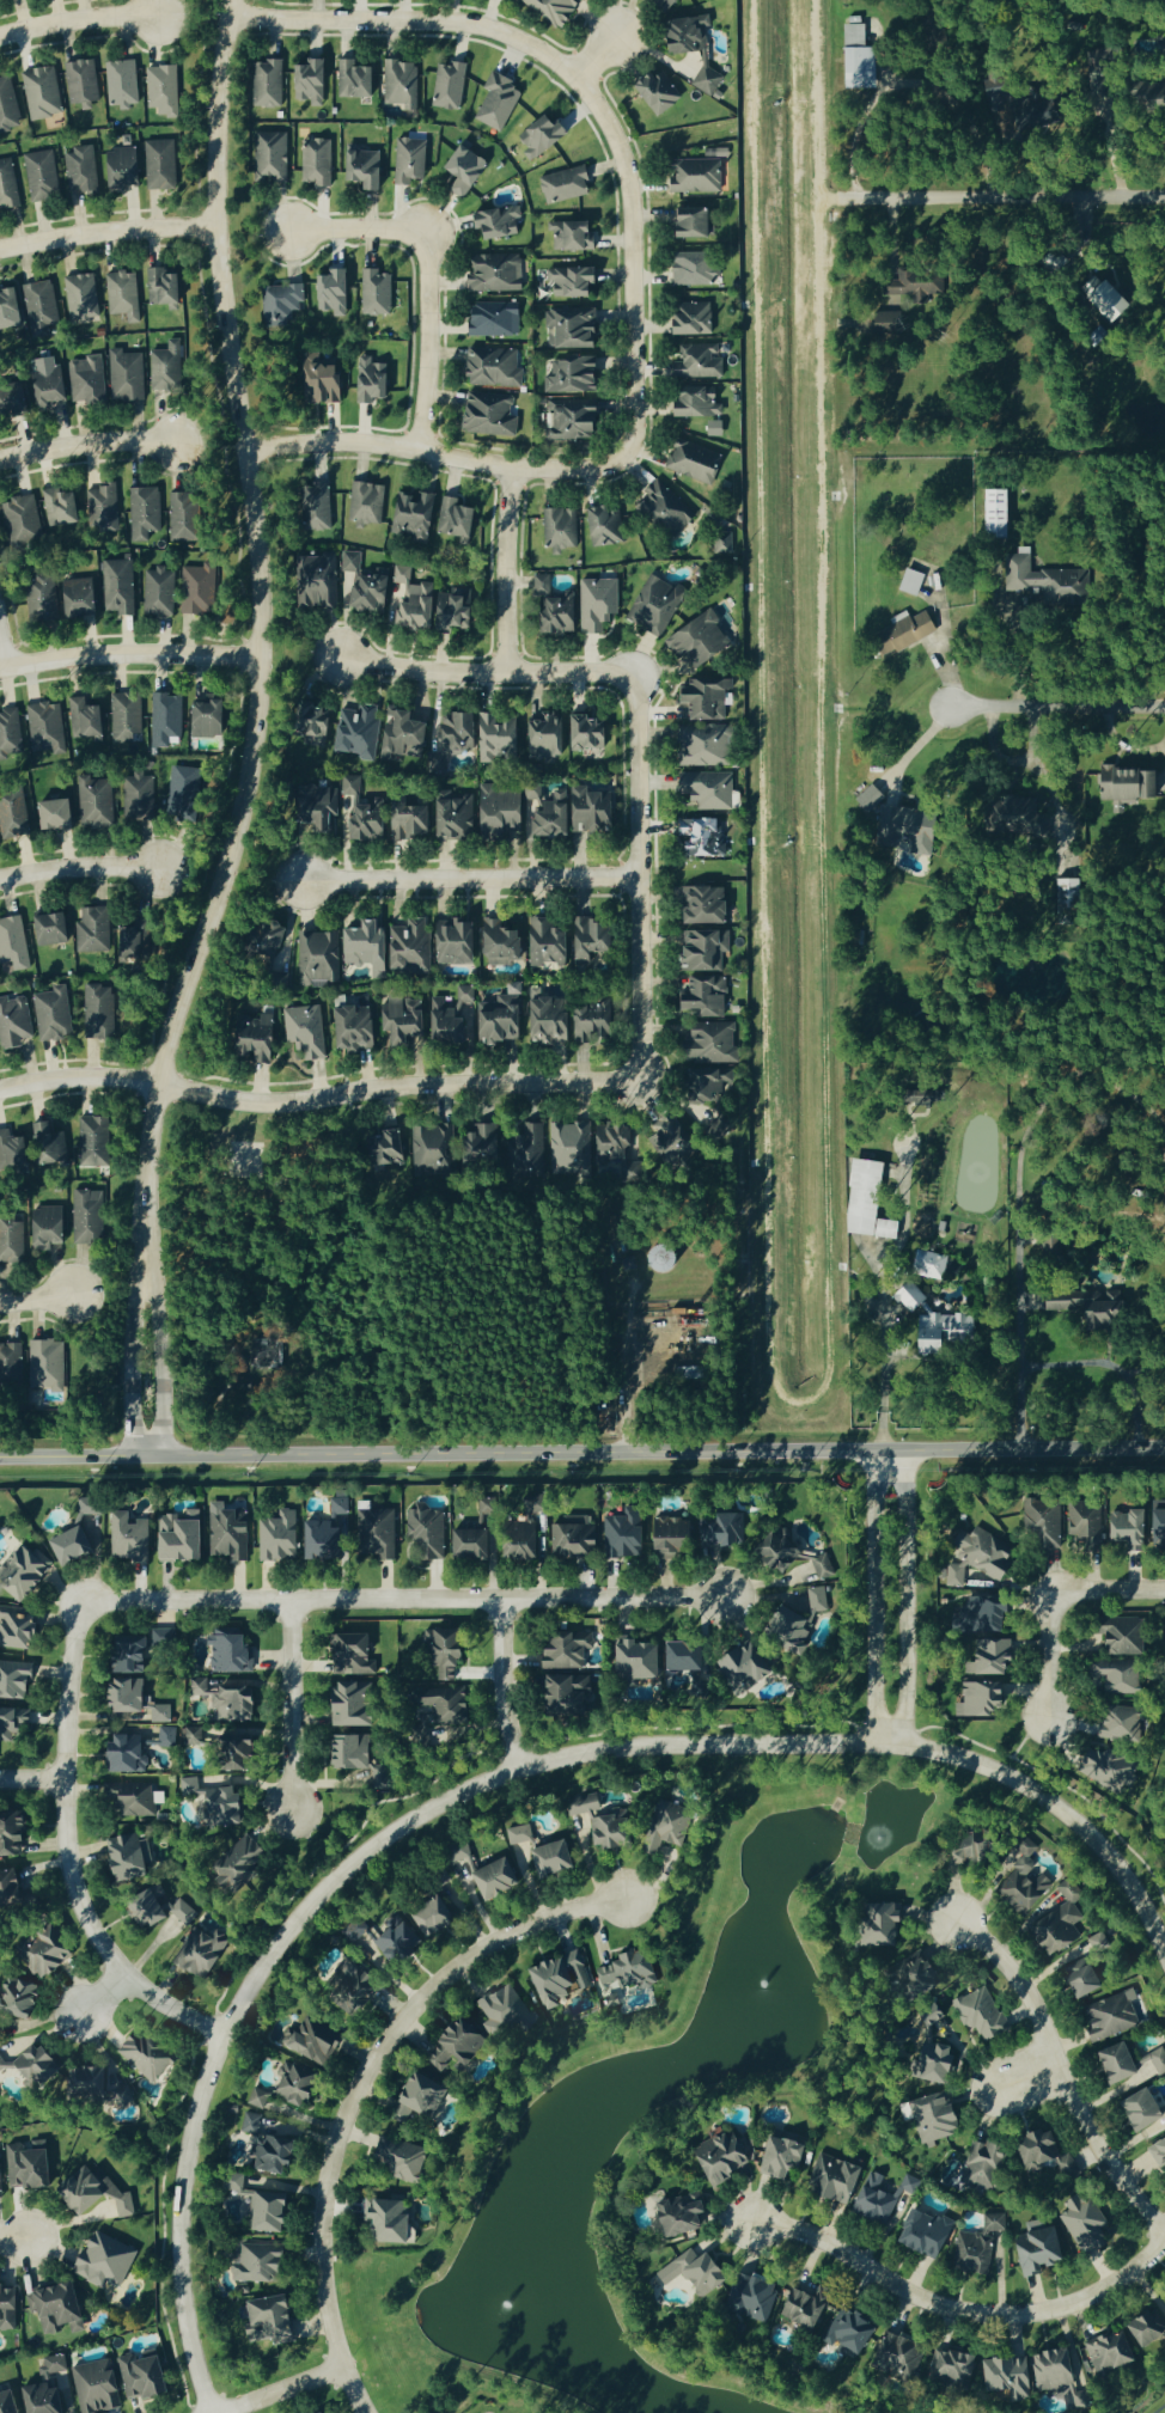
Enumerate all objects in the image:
building: (678, 0)
building: (557, 8)
road: (78, 19)
building: (693, 31)
building: (854, 53)
road: (592, 59)
building: (710, 77)
building: (359, 78)
building: (84, 79)
building: (316, 79)
building: (124, 81)
building: (272, 81)
building: (403, 81)
road: (910, 81)
building: (451, 83)
building: (166, 88)
road: (585, 90)
building: (664, 90)
building: (44, 91)
building: (990, 92)
building: (501, 99)
building: (10, 105)
building: (1027, 109)
building: (545, 134)
building: (274, 154)
building: (413, 158)
building: (321, 159)
building: (163, 163)
building: (370, 165)
building: (128, 166)
building: (84, 167)
building: (469, 167)
building: (44, 173)
building: (701, 173)
building: (8, 183)
building: (568, 183)
road: (1006, 195)
building: (499, 220)
building: (699, 220)
road: (356, 230)
road: (106, 231)
building: (577, 233)
building: (699, 267)
building: (499, 271)
building: (575, 279)
building: (910, 281)
building: (166, 285)
building: (337, 289)
building: (379, 289)
building: (126, 293)
building: (85, 294)
building: (1102, 298)
building: (283, 300)
building: (43, 306)
building: (12, 307)
building: (498, 317)
building: (696, 317)
building: (884, 322)
building: (575, 326)
road: (427, 338)
building: (701, 360)
building: (169, 365)
building: (496, 366)
building: (128, 373)
building: (577, 373)
building: (89, 377)
building: (328, 379)
building: (377, 379)
building: (55, 383)
building: (17, 397)
building: (701, 401)
building: (493, 413)
building: (578, 417)
road: (86, 441)
road: (432, 451)
building: (696, 459)
building: (368, 501)
building: (321, 503)
building: (65, 506)
building: (105, 506)
building: (670, 506)
building: (147, 511)
building: (990, 512)
building: (416, 514)
building: (188, 515)
building: (460, 518)
building: (24, 519)
building: (609, 524)
building: (562, 527)
road: (506, 570)
building: (1043, 578)
building: (318, 579)
building: (367, 582)
building: (544, 582)
building: (121, 585)
building: (201, 587)
building: (161, 589)
building: (83, 594)
building: (49, 595)
building: (417, 599)
building: (602, 601)
building: (660, 601)
building: (458, 609)
building: (566, 612)
building: (899, 630)
road: (129, 654)
road: (2, 655)
road: (486, 676)
road: (1060, 703)
building: (128, 714)
building: (213, 716)
building: (89, 717)
building: (167, 717)
building: (48, 725)
building: (11, 728)
building: (361, 728)
building: (407, 729)
building: (463, 731)
road: (254, 732)
building: (594, 732)
building: (551, 734)
building: (710, 743)
road: (921, 744)
building: (439, 760)
building: (1121, 784)
building: (187, 788)
building: (714, 788)
building: (141, 794)
building: (871, 796)
building: (98, 801)
building: (1014, 805)
building: (327, 807)
building: (506, 807)
building: (574, 810)
building: (368, 812)
building: (54, 813)
building: (14, 814)
building: (459, 815)
building: (411, 817)
building: (915, 825)
building: (706, 835)
road: (79, 868)
road: (468, 878)
road: (636, 878)
building: (709, 903)
building: (56, 928)
building: (96, 928)
building: (599, 936)
building: (140, 937)
building: (276, 939)
building: (553, 940)
building: (14, 941)
building: (460, 941)
building: (505, 941)
building: (415, 943)
building: (372, 945)
building: (709, 948)
building: (319, 955)
building: (708, 995)
building: (102, 1010)
building: (55, 1013)
building: (456, 1013)
building: (506, 1014)
building: (407, 1018)
building: (554, 1018)
building: (16, 1020)
building: (598, 1020)
building: (360, 1027)
building: (309, 1028)
building: (261, 1037)
building: (715, 1041)
building: (713, 1082)
building: (920, 1096)
road: (318, 1099)
building: (484, 1137)
building: (677, 1137)
building: (97, 1140)
building: (571, 1140)
building: (53, 1146)
building: (618, 1146)
building: (391, 1147)
building: (432, 1148)
building: (16, 1149)
building: (524, 1151)
building: (91, 1215)
building: (54, 1224)
building: (884, 1228)
building: (13, 1238)
building: (928, 1264)
road: (36, 1301)
road: (883, 1354)
road: (624, 1362)
building: (12, 1364)
building: (49, 1366)
road: (582, 1454)
building: (94, 1505)
building: (335, 1509)
building: (1039, 1516)
building: (1157, 1533)
building: (665, 1535)
building: (132, 1537)
building: (184, 1537)
building: (227, 1537)
building: (371, 1537)
building: (274, 1538)
building: (425, 1538)
building: (617, 1538)
building: (317, 1541)
building: (514, 1544)
building: (566, 1544)
building: (79, 1545)
building: (462, 1545)
building: (971, 1559)
building: (28, 1574)
road: (873, 1598)
road: (904, 1598)
road: (404, 1599)
road: (1055, 1602)
building: (22, 1627)
building: (782, 1630)
building: (1118, 1638)
building: (437, 1647)
building: (142, 1649)
building: (559, 1653)
building: (232, 1654)
building: (677, 1658)
building: (629, 1661)
building: (744, 1668)
building: (17, 1680)
road: (501, 1681)
building: (140, 1699)
building: (975, 1700)
building: (340, 1702)
road: (292, 1704)
building: (12, 1717)
road: (1027, 1734)
building: (169, 1737)
building: (206, 1740)
building: (132, 1753)
road: (494, 1776)
road: (32, 1782)
road: (1056, 1783)
building: (134, 1800)
building: (232, 1828)
fountain: (878, 1835)
building: (14, 1837)
building: (520, 1841)
building: (958, 1846)
building: (130, 1857)
road: (69, 1858)
building: (545, 1859)
building: (489, 1879)
building: (13, 1889)
building: (1019, 1890)
building: (165, 1907)
building: (1094, 1942)
building: (206, 1948)
building: (55, 1954)
building: (622, 1974)
building: (556, 1979)
building: (1076, 1984)
fountain: (760, 1991)
road: (102, 1996)
building: (610, 1999)
building: (498, 2010)
building: (980, 2015)
building: (1106, 2016)
building: (305, 2045)
building: (151, 2055)
building: (1149, 2063)
building: (1110, 2065)
road: (1024, 2076)
road: (1061, 2077)
road: (356, 2085)
building: (410, 2091)
building: (1135, 2112)
building: (931, 2118)
building: (391, 2152)
building: (1158, 2155)
building: (714, 2156)
building: (32, 2165)
building: (2, 2174)
building: (100, 2194)
building: (871, 2200)
building: (672, 2212)
building: (382, 2217)
road: (13, 2240)
building: (950, 2242)
building: (252, 2262)
building: (688, 2272)
building: (1163, 2293)
fountain: (498, 2297)
building: (61, 2305)
building: (6, 2308)
building: (795, 2308)
road: (962, 2315)
building: (1145, 2329)
building: (844, 2332)
building: (1105, 2352)
building: (136, 2376)
building: (1000, 2377)
building: (92, 2387)
road: (277, 2389)
building: (32, 2391)
road: (1158, 2407)

